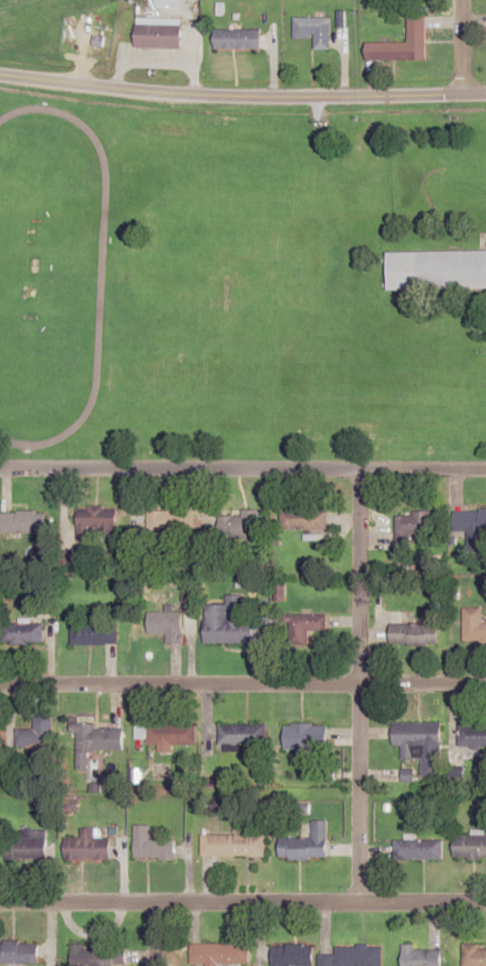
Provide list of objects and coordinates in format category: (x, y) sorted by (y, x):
building: (414, 0)
building: (178, 1)
building: (313, 30)
building: (159, 33)
building: (238, 39)
building: (403, 43)
road: (458, 48)
road: (242, 97)
building: (436, 269)
road: (243, 469)
building: (303, 518)
building: (97, 520)
building: (23, 521)
building: (415, 523)
building: (470, 525)
building: (240, 526)
building: (229, 622)
building: (167, 625)
building: (303, 626)
building: (472, 628)
building: (23, 634)
building: (94, 634)
building: (414, 634)
road: (357, 685)
road: (242, 689)
building: (36, 734)
building: (171, 734)
building: (241, 735)
building: (415, 735)
building: (472, 735)
building: (306, 737)
building: (95, 741)
building: (234, 844)
building: (306, 844)
building: (28, 845)
building: (152, 845)
building: (470, 845)
building: (88, 846)
building: (419, 849)
road: (242, 901)
road: (149, 933)
building: (17, 952)
building: (220, 954)
building: (292, 954)
building: (474, 955)
building: (94, 956)
building: (353, 956)
building: (422, 956)

